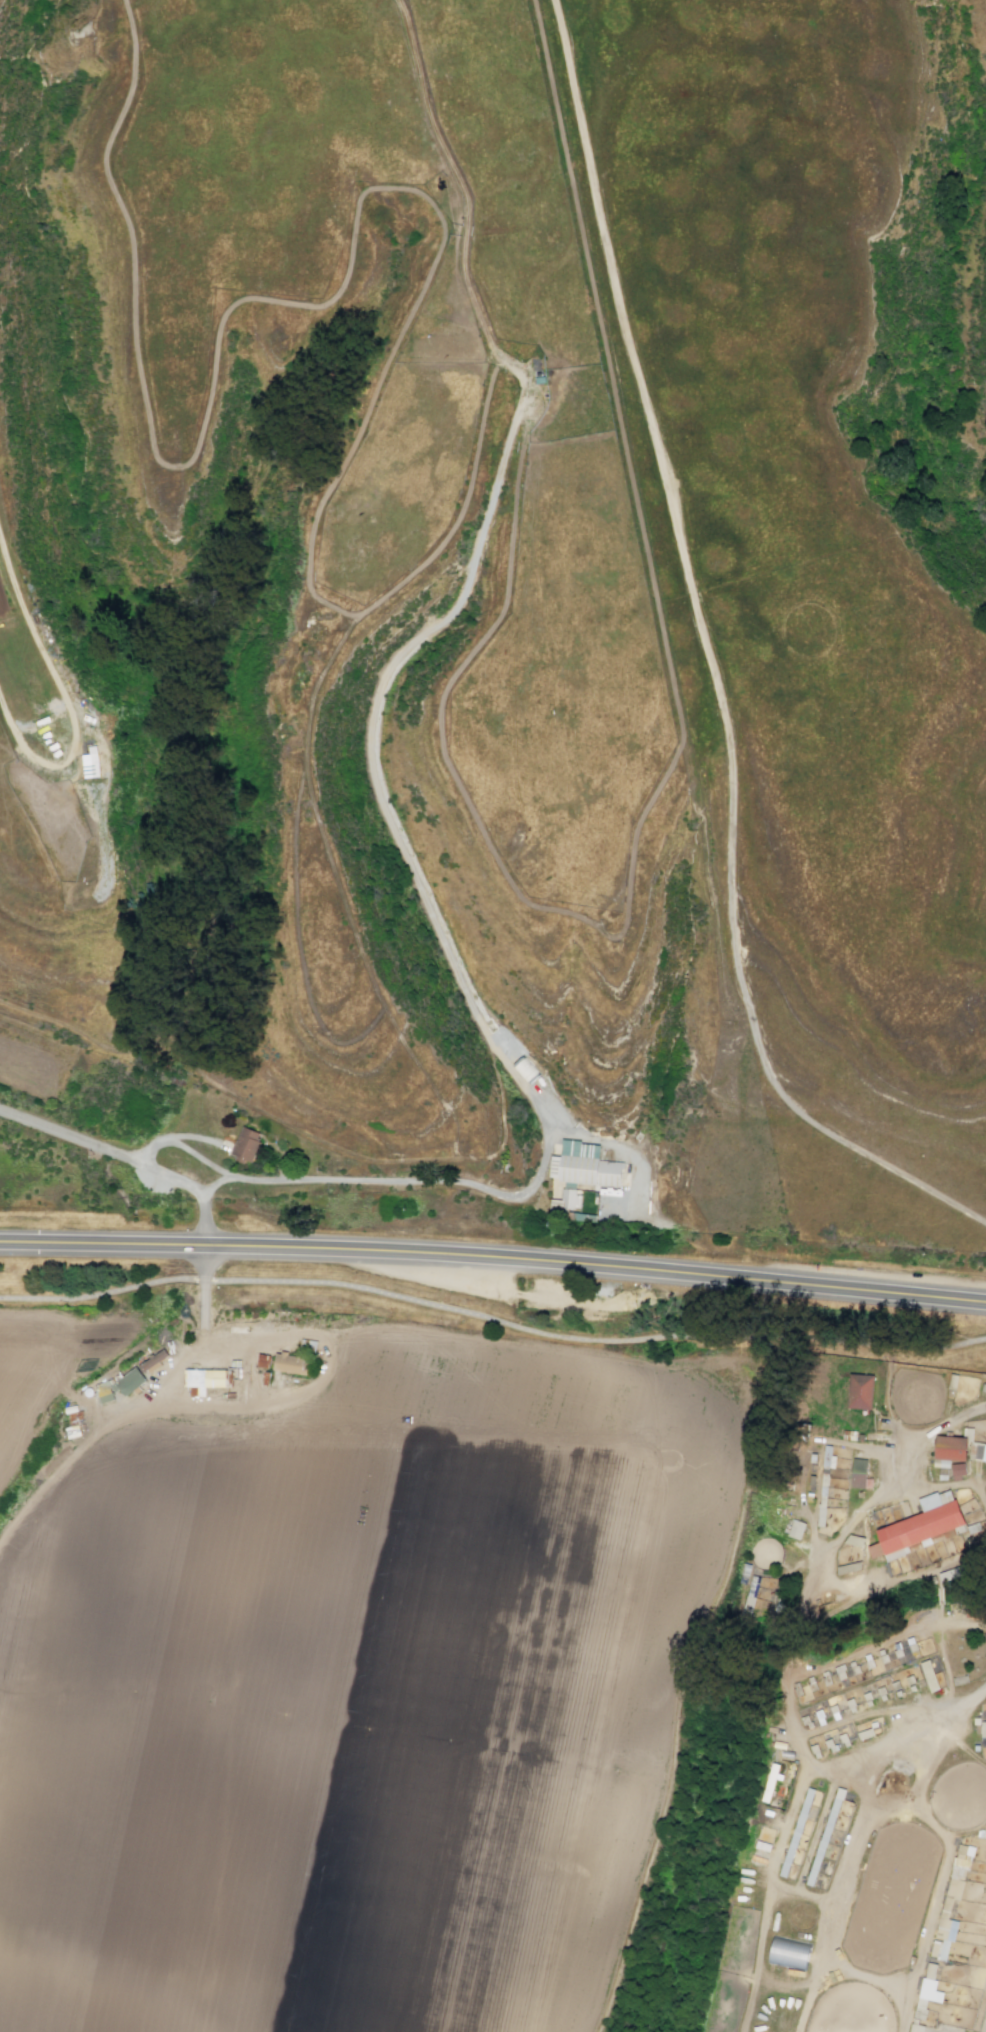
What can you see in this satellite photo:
building: (554, 372)
crop: (506, 577)
road: (467, 579)
road: (715, 664)
road: (65, 701)
building: (96, 761)
building: (526, 1071)
road: (202, 1141)
building: (249, 1147)
road: (626, 1154)
building: (587, 1172)
road: (165, 1174)
road: (366, 1181)
building: (565, 1204)
road: (493, 1259)
road: (492, 1318)
building: (262, 1360)
building: (293, 1366)
crop: (22, 1368)
road: (64, 1376)
building: (207, 1381)
building: (132, 1383)
building: (858, 1391)
road: (155, 1393)
building: (105, 1396)
road: (82, 1399)
road: (919, 1433)
building: (948, 1446)
building: (958, 1470)
building: (858, 1473)
road: (942, 1485)
road: (741, 1516)
building: (918, 1526)
building: (795, 1529)
building: (855, 1540)
building: (848, 1567)
building: (951, 1573)
road: (847, 1591)
building: (840, 1673)
building: (928, 1675)
crop: (354, 1696)
road: (336, 1724)
crop: (839, 1736)
building: (801, 1832)
building: (829, 1844)
building: (957, 1875)
building: (943, 1938)
building: (788, 1953)
building: (927, 1989)
building: (916, 2028)

